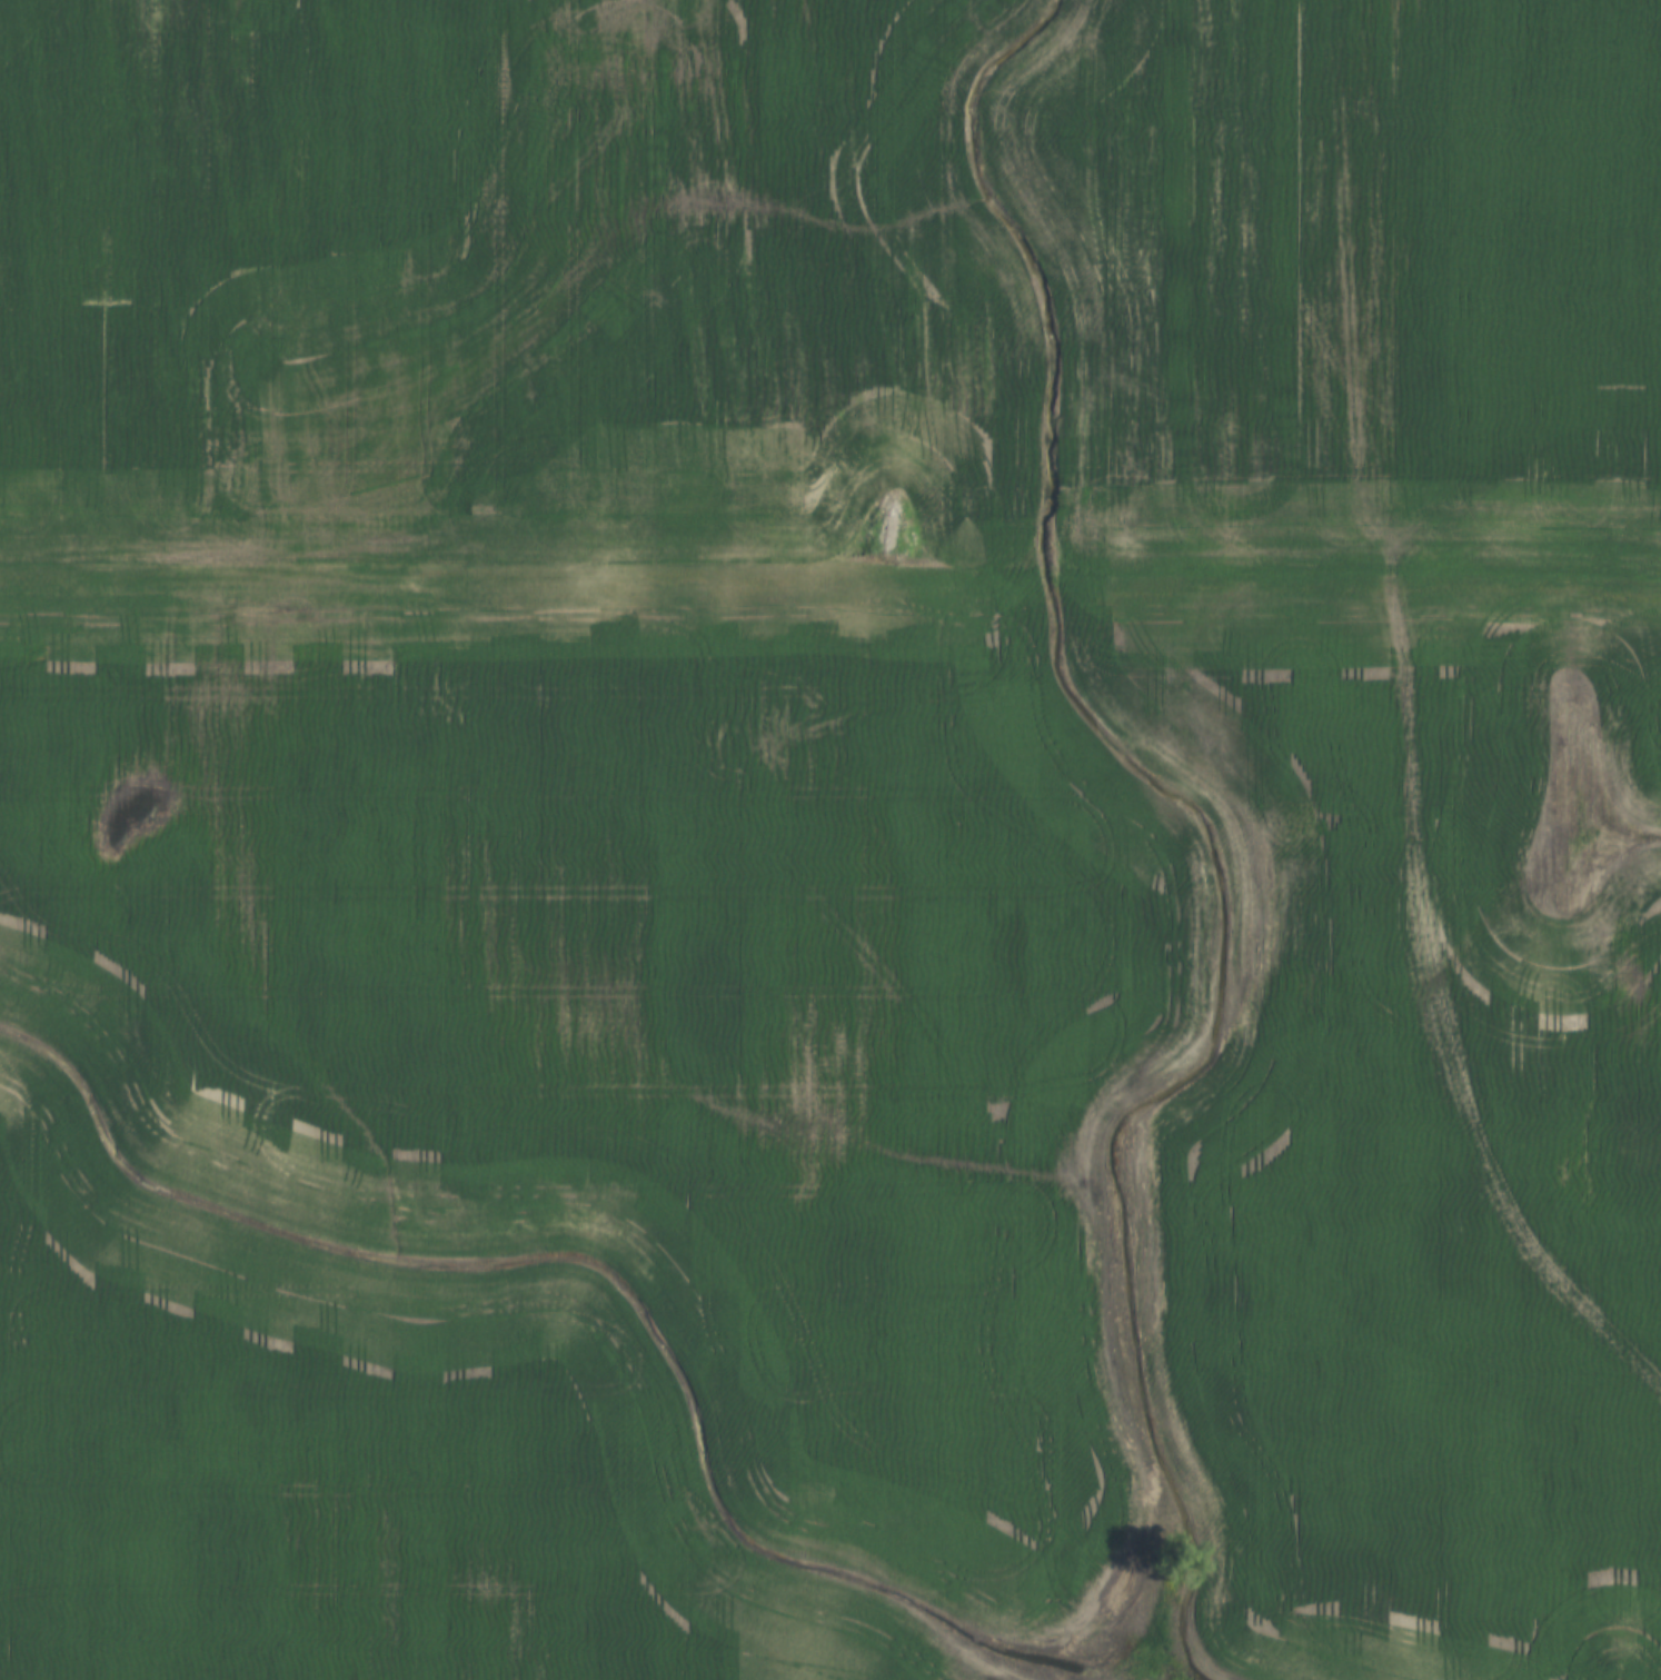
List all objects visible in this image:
road: (836, 476)

